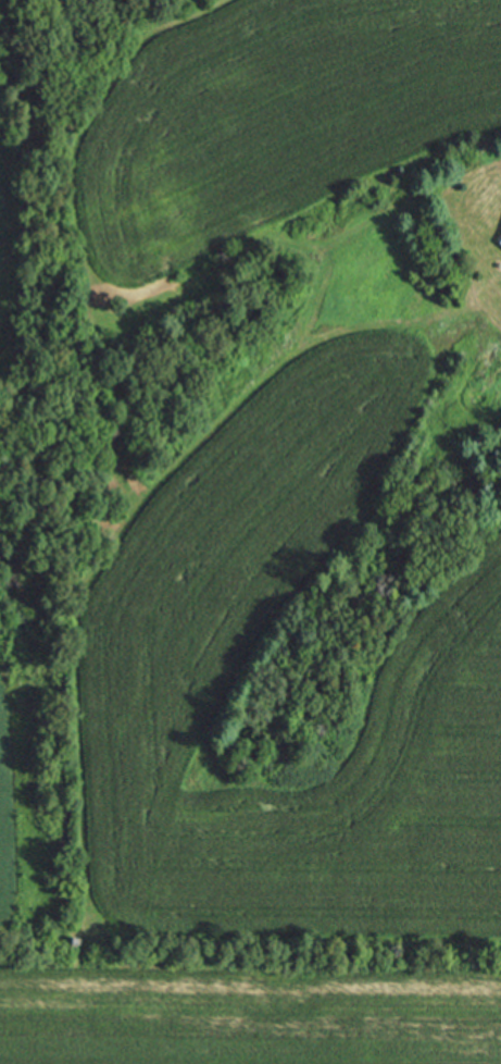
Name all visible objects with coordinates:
building: (499, 242)

